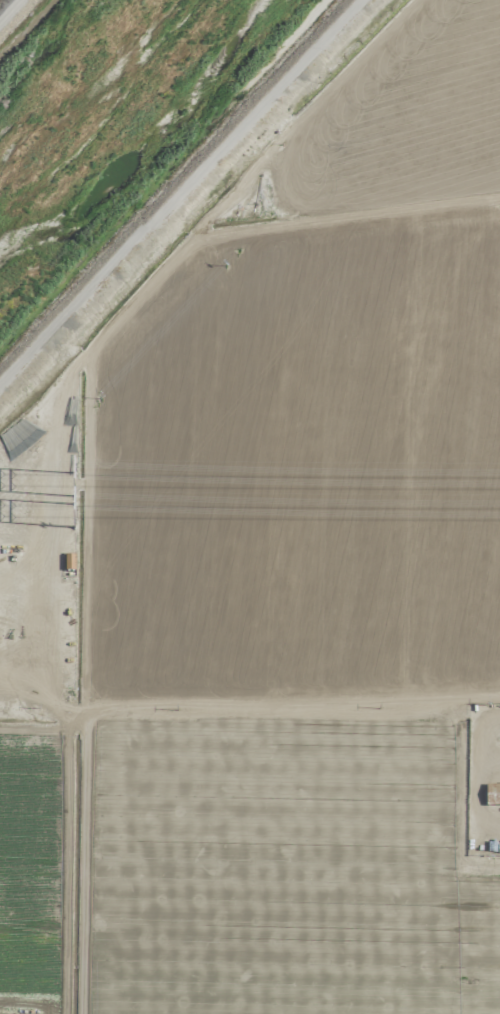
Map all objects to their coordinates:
river: (104, 114)
road: (179, 194)
power tower: (76, 485)
power tower: (76, 516)
crop: (274, 583)
road: (251, 713)
building: (492, 794)

